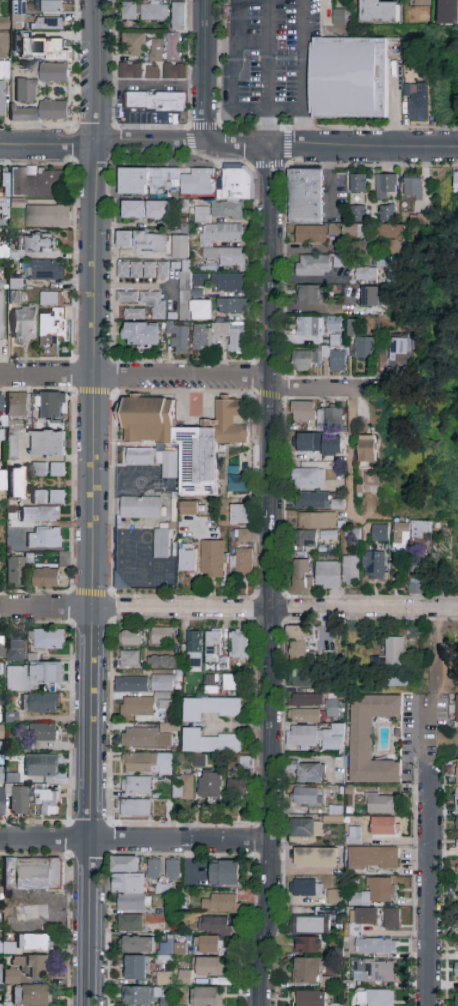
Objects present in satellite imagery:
building: (421, 3)
building: (49, 6)
building: (226, 11)
building: (129, 12)
building: (154, 12)
building: (378, 12)
building: (449, 12)
building: (179, 16)
building: (339, 17)
building: (49, 24)
road: (392, 34)
building: (35, 42)
road: (236, 43)
building: (133, 44)
building: (3, 45)
building: (174, 47)
building: (155, 59)
parking lot: (268, 60)
road: (203, 70)
building: (129, 71)
building: (174, 71)
road: (303, 73)
building: (54, 74)
building: (348, 78)
building: (3, 85)
building: (25, 91)
building: (151, 103)
building: (417, 103)
road: (251, 109)
building: (54, 110)
building: (24, 114)
road: (269, 128)
road: (101, 142)
road: (236, 145)
road: (363, 147)
road: (328, 178)
building: (456, 180)
building: (164, 182)
building: (35, 184)
building: (236, 184)
building: (358, 184)
building: (387, 187)
building: (412, 188)
building: (305, 197)
building: (15, 201)
building: (145, 210)
building: (228, 210)
building: (358, 212)
building: (388, 213)
building: (201, 215)
building: (48, 216)
building: (332, 229)
building: (353, 230)
building: (222, 233)
building: (310, 234)
building: (393, 237)
building: (141, 241)
building: (38, 243)
building: (180, 248)
building: (225, 255)
building: (380, 260)
building: (338, 261)
building: (207, 266)
building: (313, 266)
building: (142, 270)
building: (47, 271)
building: (366, 274)
building: (199, 280)
building: (228, 283)
building: (309, 295)
building: (14, 296)
building: (127, 297)
building: (370, 297)
building: (51, 300)
building: (154, 303)
road: (95, 304)
building: (192, 304)
building: (231, 306)
building: (134, 314)
building: (2, 315)
building: (24, 324)
building: (334, 326)
building: (309, 327)
building: (351, 327)
building: (53, 329)
building: (140, 335)
building: (233, 336)
building: (202, 338)
building: (179, 339)
building: (364, 349)
building: (398, 356)
building: (306, 360)
building: (337, 361)
road: (135, 377)
road: (316, 390)
building: (1, 402)
building: (17, 405)
building: (52, 406)
building: (303, 411)
building: (333, 416)
building: (318, 420)
building: (2, 435)
building: (185, 437)
building: (309, 443)
building: (47, 444)
building: (331, 448)
building: (367, 449)
building: (11, 450)
building: (153, 460)
building: (39, 470)
building: (57, 470)
building: (308, 478)
building: (2, 480)
building: (236, 482)
building: (17, 484)
building: (39, 496)
building: (57, 497)
building: (317, 502)
building: (142, 507)
building: (189, 509)
building: (47, 515)
building: (240, 515)
building: (317, 520)
building: (421, 531)
building: (380, 533)
building: (245, 536)
building: (328, 536)
building: (401, 536)
building: (45, 539)
building: (306, 540)
building: (162, 543)
building: (187, 558)
building: (213, 559)
building: (241, 562)
building: (374, 566)
building: (351, 569)
building: (15, 572)
building: (303, 573)
building: (327, 575)
building: (47, 576)
road: (270, 577)
building: (416, 585)
road: (228, 608)
building: (162, 635)
building: (133, 638)
building: (49, 640)
building: (194, 642)
building: (300, 644)
building: (240, 645)
building: (1, 646)
building: (214, 646)
building: (14, 651)
building: (395, 652)
building: (130, 659)
road: (442, 659)
building: (162, 662)
building: (0, 672)
building: (31, 676)
building: (300, 679)
building: (162, 683)
building: (232, 683)
building: (131, 684)
building: (306, 701)
building: (41, 703)
building: (164, 703)
building: (137, 707)
building: (229, 708)
building: (335, 709)
building: (457, 709)
building: (195, 710)
building: (305, 717)
building: (167, 728)
building: (1, 732)
building: (45, 733)
building: (146, 738)
building: (315, 738)
building: (370, 740)
building: (209, 742)
building: (200, 762)
building: (246, 763)
building: (147, 764)
building: (42, 766)
building: (308, 772)
building: (457, 772)
building: (0, 774)
building: (212, 785)
building: (136, 786)
building: (184, 788)
building: (241, 789)
building: (311, 796)
building: (19, 800)
building: (457, 800)
building: (2, 801)
building: (47, 803)
building: (380, 803)
road: (88, 806)
building: (135, 808)
building: (335, 816)
building: (457, 824)
building: (383, 827)
building: (305, 831)
building: (354, 835)
road: (134, 840)
building: (457, 841)
road: (427, 854)
building: (315, 858)
building: (373, 858)
building: (154, 869)
building: (172, 869)
building: (457, 869)
building: (33, 874)
building: (225, 874)
building: (128, 885)
building: (306, 888)
building: (374, 893)
building: (334, 897)
building: (457, 901)
building: (219, 903)
building: (365, 917)
building: (391, 919)
building: (131, 923)
building: (214, 925)
building: (309, 926)
building: (33, 943)
building: (138, 945)
building: (208, 945)
building: (308, 946)
building: (7, 947)
building: (375, 947)
building: (457, 948)
building: (34, 966)
building: (207, 967)
building: (136, 968)
building: (307, 971)
building: (456, 971)
building: (373, 972)
building: (10, 975)
building: (183, 977)
building: (32, 996)
building: (140, 996)
building: (207, 997)
building: (375, 998)
building: (311, 999)
building: (457, 999)
building: (335, 1004)

